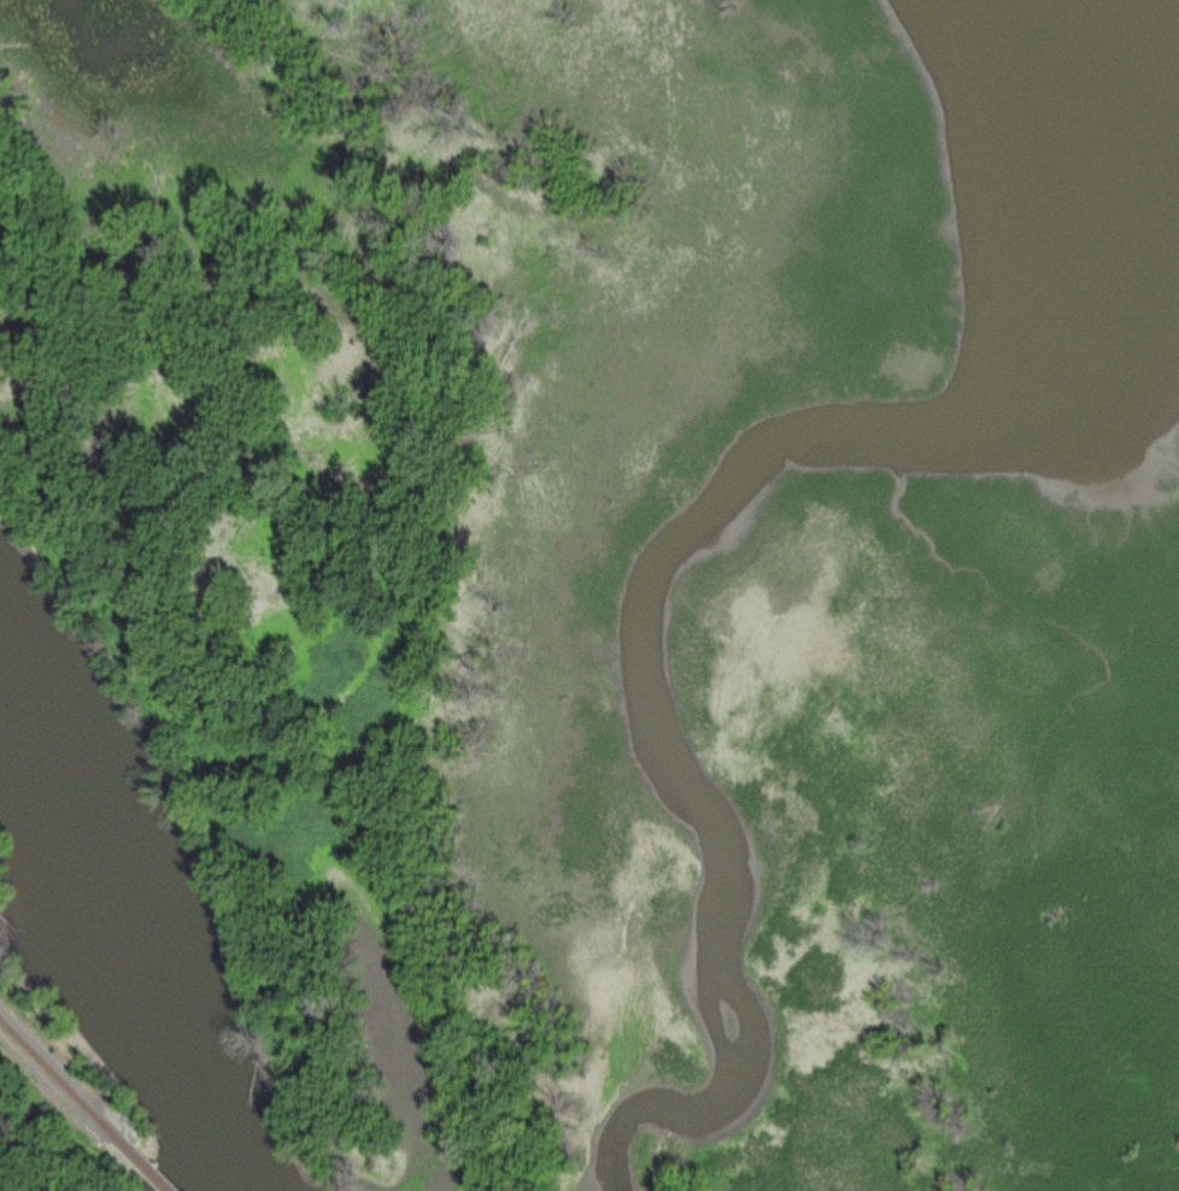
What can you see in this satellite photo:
river: (137, 874)
railway: (64, 1079)
railway: (151, 1167)

